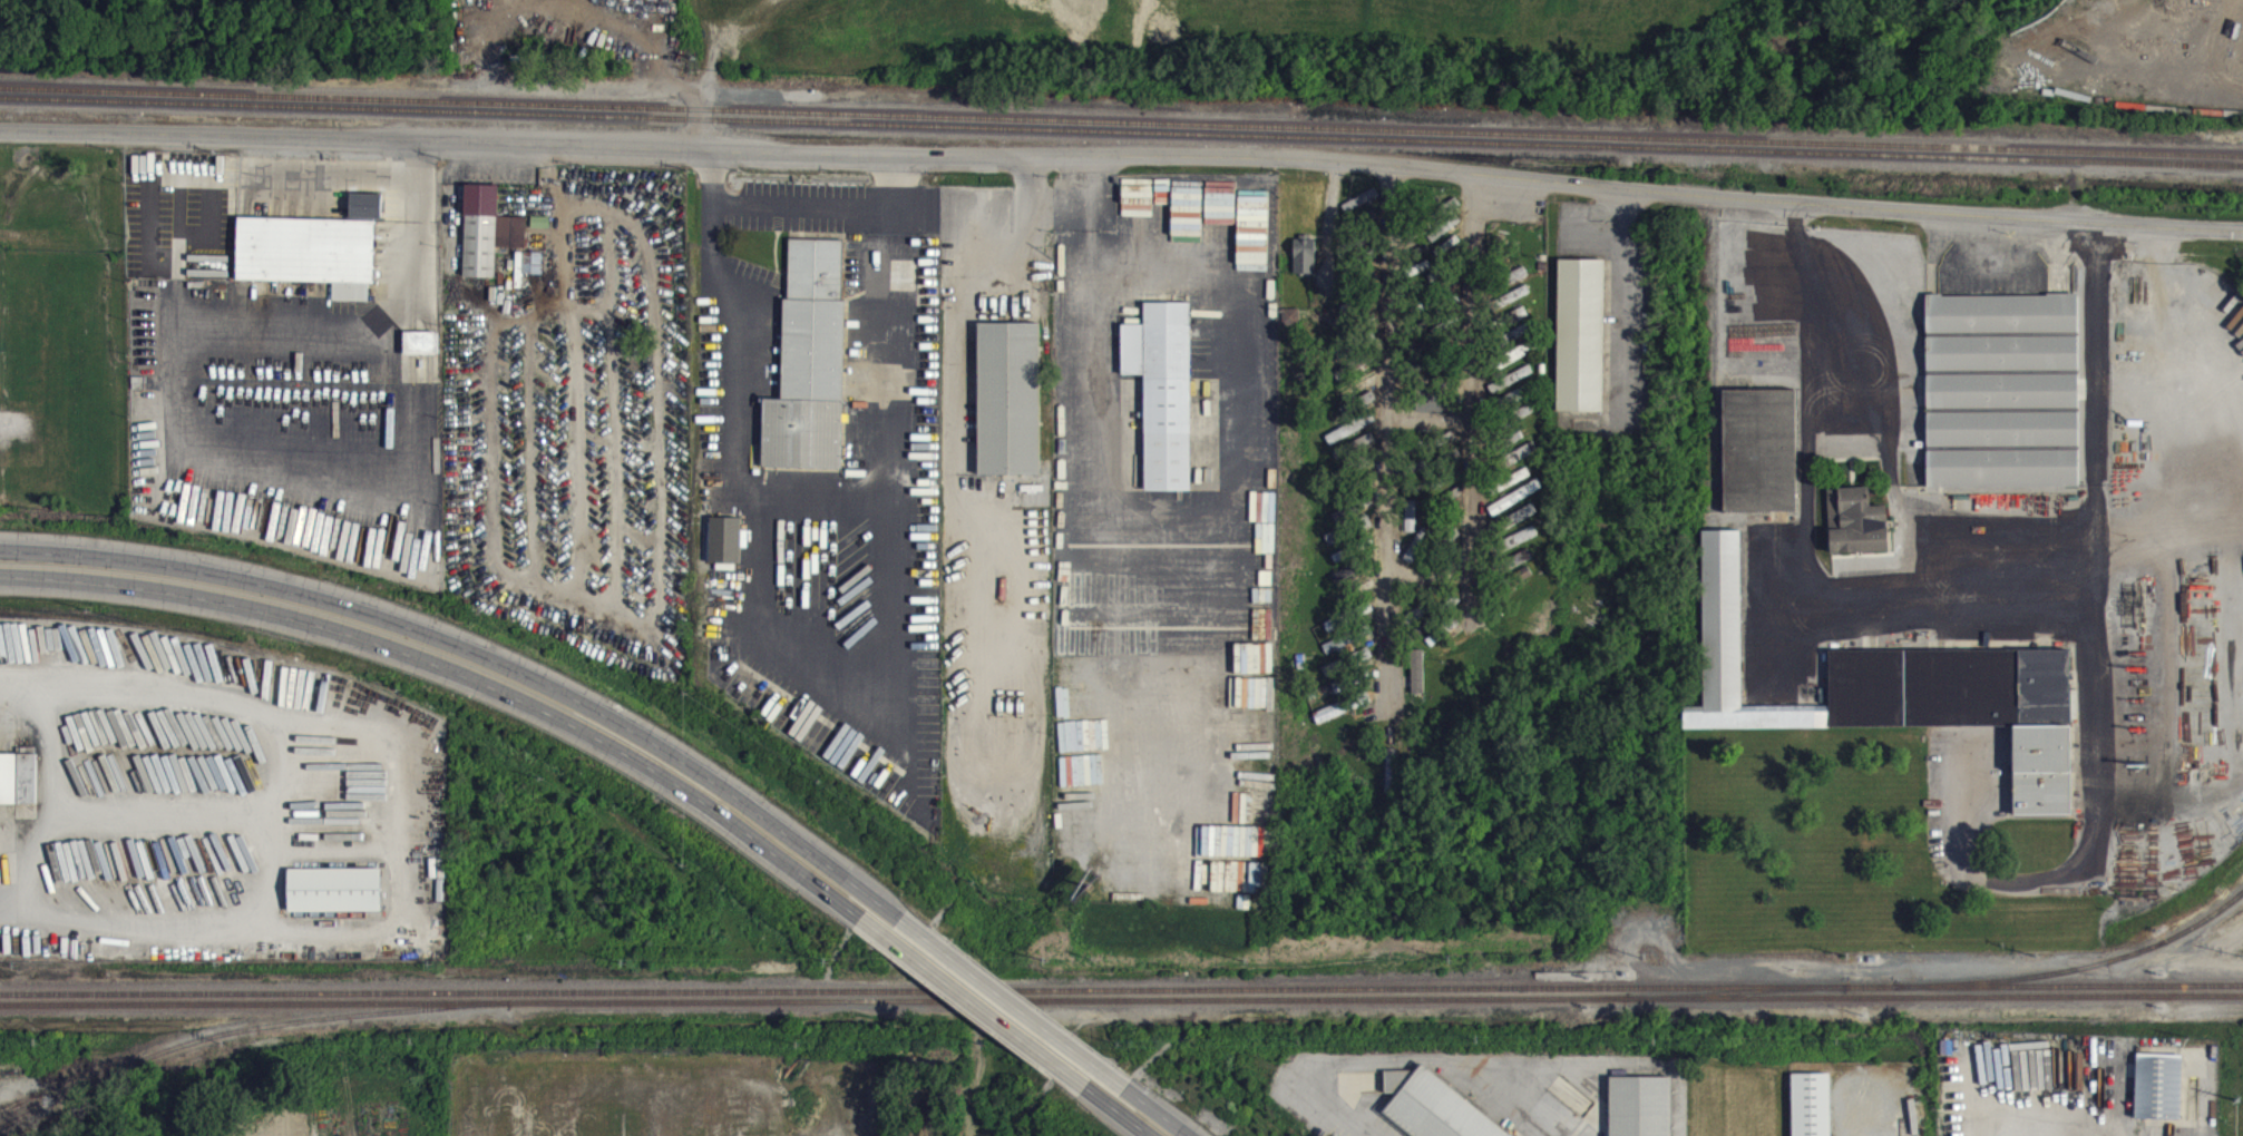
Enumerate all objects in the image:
railway: (1121, 129)
railway: (1121, 140)
road: (1122, 155)
road: (553, 193)
road: (803, 207)
building: (367, 214)
building: (488, 238)
building: (311, 261)
building: (1306, 264)
building: (529, 272)
building: (899, 283)
road: (1089, 292)
road: (1628, 294)
road: (955, 302)
building: (1582, 343)
building: (422, 351)
building: (810, 371)
building: (2003, 399)
building: (1164, 400)
building: (1010, 407)
road: (1473, 410)
road: (1387, 428)
building: (1761, 459)
building: (1412, 525)
building: (1857, 530)
building: (725, 548)
road: (1941, 607)
road: (495, 664)
building: (1418, 679)
road: (471, 680)
building: (1901, 697)
building: (19, 787)
building: (338, 899)
railway: (2096, 973)
railway: (1121, 987)
railway: (1737, 989)
railway: (1121, 996)
road: (1015, 1001)
road: (976, 1007)
railway: (250, 1037)
road: (1401, 1057)
road: (1148, 1101)
road: (1108, 1107)
building: (1813, 1108)
building: (1642, 1110)
building: (1430, 1111)
road: (2026, 1113)

